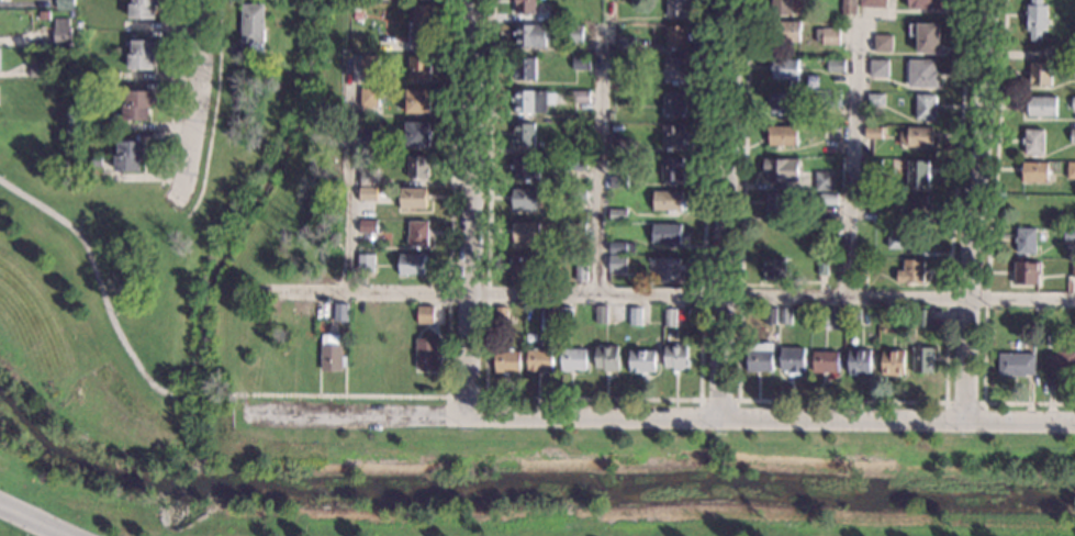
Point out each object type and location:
building: (280, 0)
building: (0, 1)
building: (387, 1)
building: (65, 4)
building: (876, 4)
building: (926, 5)
building: (527, 8)
building: (783, 8)
building: (850, 8)
building: (678, 9)
building: (144, 10)
building: (608, 12)
building: (358, 13)
building: (560, 18)
building: (1037, 20)
building: (423, 23)
building: (253, 24)
building: (786, 33)
building: (63, 36)
building: (575, 36)
building: (531, 37)
building: (679, 37)
building: (831, 38)
building: (926, 38)
building: (884, 45)
building: (628, 48)
building: (119, 53)
building: (1071, 54)
building: (144, 56)
building: (0, 62)
building: (582, 65)
building: (624, 65)
building: (370, 66)
building: (837, 68)
building: (421, 69)
building: (38, 70)
building: (525, 70)
building: (881, 70)
building: (676, 71)
building: (786, 71)
building: (1074, 75)
building: (923, 76)
building: (1041, 76)
building: (117, 77)
road: (176, 94)
building: (582, 98)
building: (370, 99)
building: (830, 101)
building: (877, 101)
road: (198, 102)
building: (419, 103)
building: (533, 103)
building: (675, 104)
building: (1074, 105)
building: (781, 107)
building: (138, 108)
building: (926, 110)
building: (1042, 110)
road: (215, 112)
building: (612, 118)
building: (581, 132)
building: (370, 133)
building: (832, 134)
building: (874, 134)
building: (418, 136)
building: (525, 136)
building: (783, 137)
building: (674, 138)
building: (918, 138)
building: (1073, 138)
building: (1034, 145)
building: (624, 149)
road: (852, 157)
building: (131, 158)
road: (601, 159)
building: (579, 166)
building: (874, 167)
building: (419, 168)
building: (673, 170)
building: (526, 171)
building: (781, 172)
building: (1071, 172)
building: (918, 174)
building: (1035, 174)
road: (349, 176)
building: (369, 179)
building: (824, 182)
building: (619, 183)
building: (369, 196)
building: (579, 196)
road: (450, 198)
building: (414, 200)
building: (526, 201)
building: (829, 201)
building: (670, 203)
building: (871, 204)
road: (470, 205)
building: (779, 205)
road: (719, 208)
building: (919, 210)
road: (967, 210)
building: (618, 216)
building: (368, 228)
building: (578, 232)
building: (528, 234)
building: (828, 234)
building: (418, 236)
building: (668, 236)
building: (1070, 237)
building: (908, 241)
building: (1027, 243)
park: (225, 246)
road: (988, 246)
building: (622, 249)
building: (367, 265)
building: (619, 266)
building: (413, 267)
building: (824, 269)
building: (520, 270)
building: (670, 270)
building: (775, 272)
building: (1074, 272)
building: (583, 273)
building: (912, 273)
building: (1027, 275)
building: (862, 276)
road: (100, 283)
road: (668, 294)
building: (341, 314)
building: (602, 316)
building: (427, 317)
building: (553, 317)
building: (787, 317)
building: (503, 319)
building: (567, 319)
building: (637, 319)
building: (671, 319)
building: (771, 319)
building: (855, 319)
building: (925, 319)
building: (833, 321)
building: (1074, 322)
building: (893, 325)
park: (81, 330)
building: (1051, 342)
building: (333, 355)
building: (428, 355)
building: (676, 360)
building: (761, 360)
building: (540, 361)
building: (575, 361)
building: (608, 361)
building: (923, 361)
building: (794, 362)
building: (508, 364)
building: (643, 364)
building: (828, 364)
building: (861, 364)
building: (894, 365)
building: (1018, 367)
building: (1062, 367)
road: (199, 393)
road: (227, 393)
road: (345, 395)
road: (466, 397)
road: (594, 398)
road: (719, 400)
road: (842, 401)
road: (244, 403)
road: (964, 403)
road: (659, 415)
river: (525, 490)
road: (34, 521)

